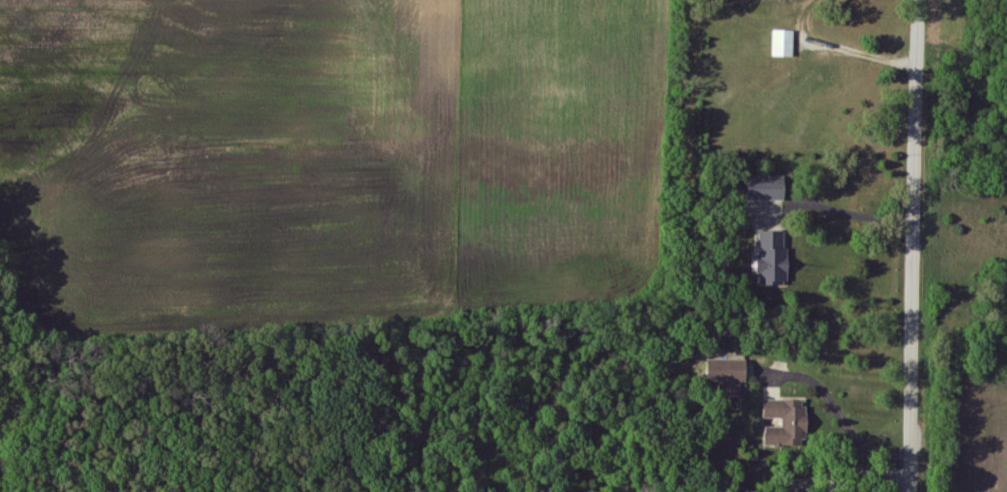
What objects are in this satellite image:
building: (783, 44)
road: (860, 54)
building: (766, 189)
road: (847, 214)
road: (919, 246)
road: (764, 258)
building: (772, 259)
building: (727, 376)
road: (848, 394)
building: (786, 422)

